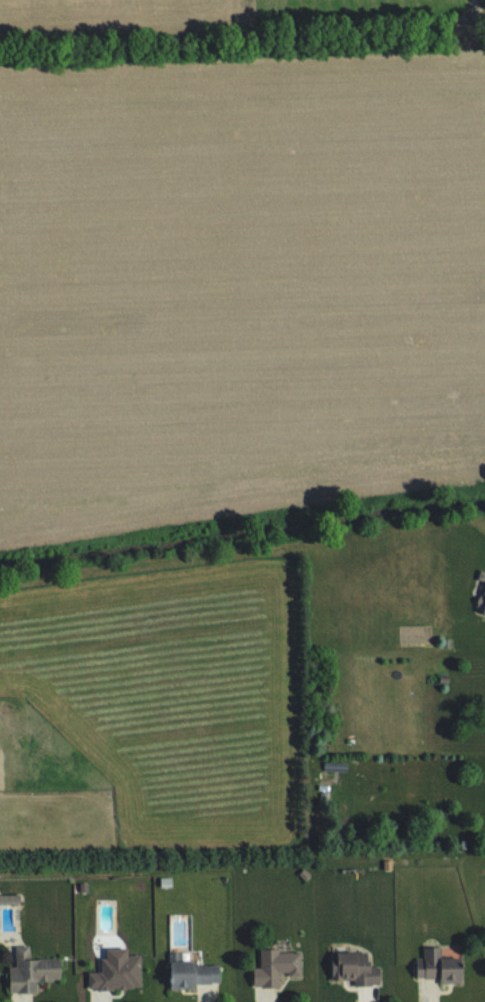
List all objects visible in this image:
building: (481, 596)
building: (442, 669)
building: (442, 961)
building: (278, 965)
building: (358, 966)
building: (116, 971)
building: (34, 972)
building: (196, 973)

